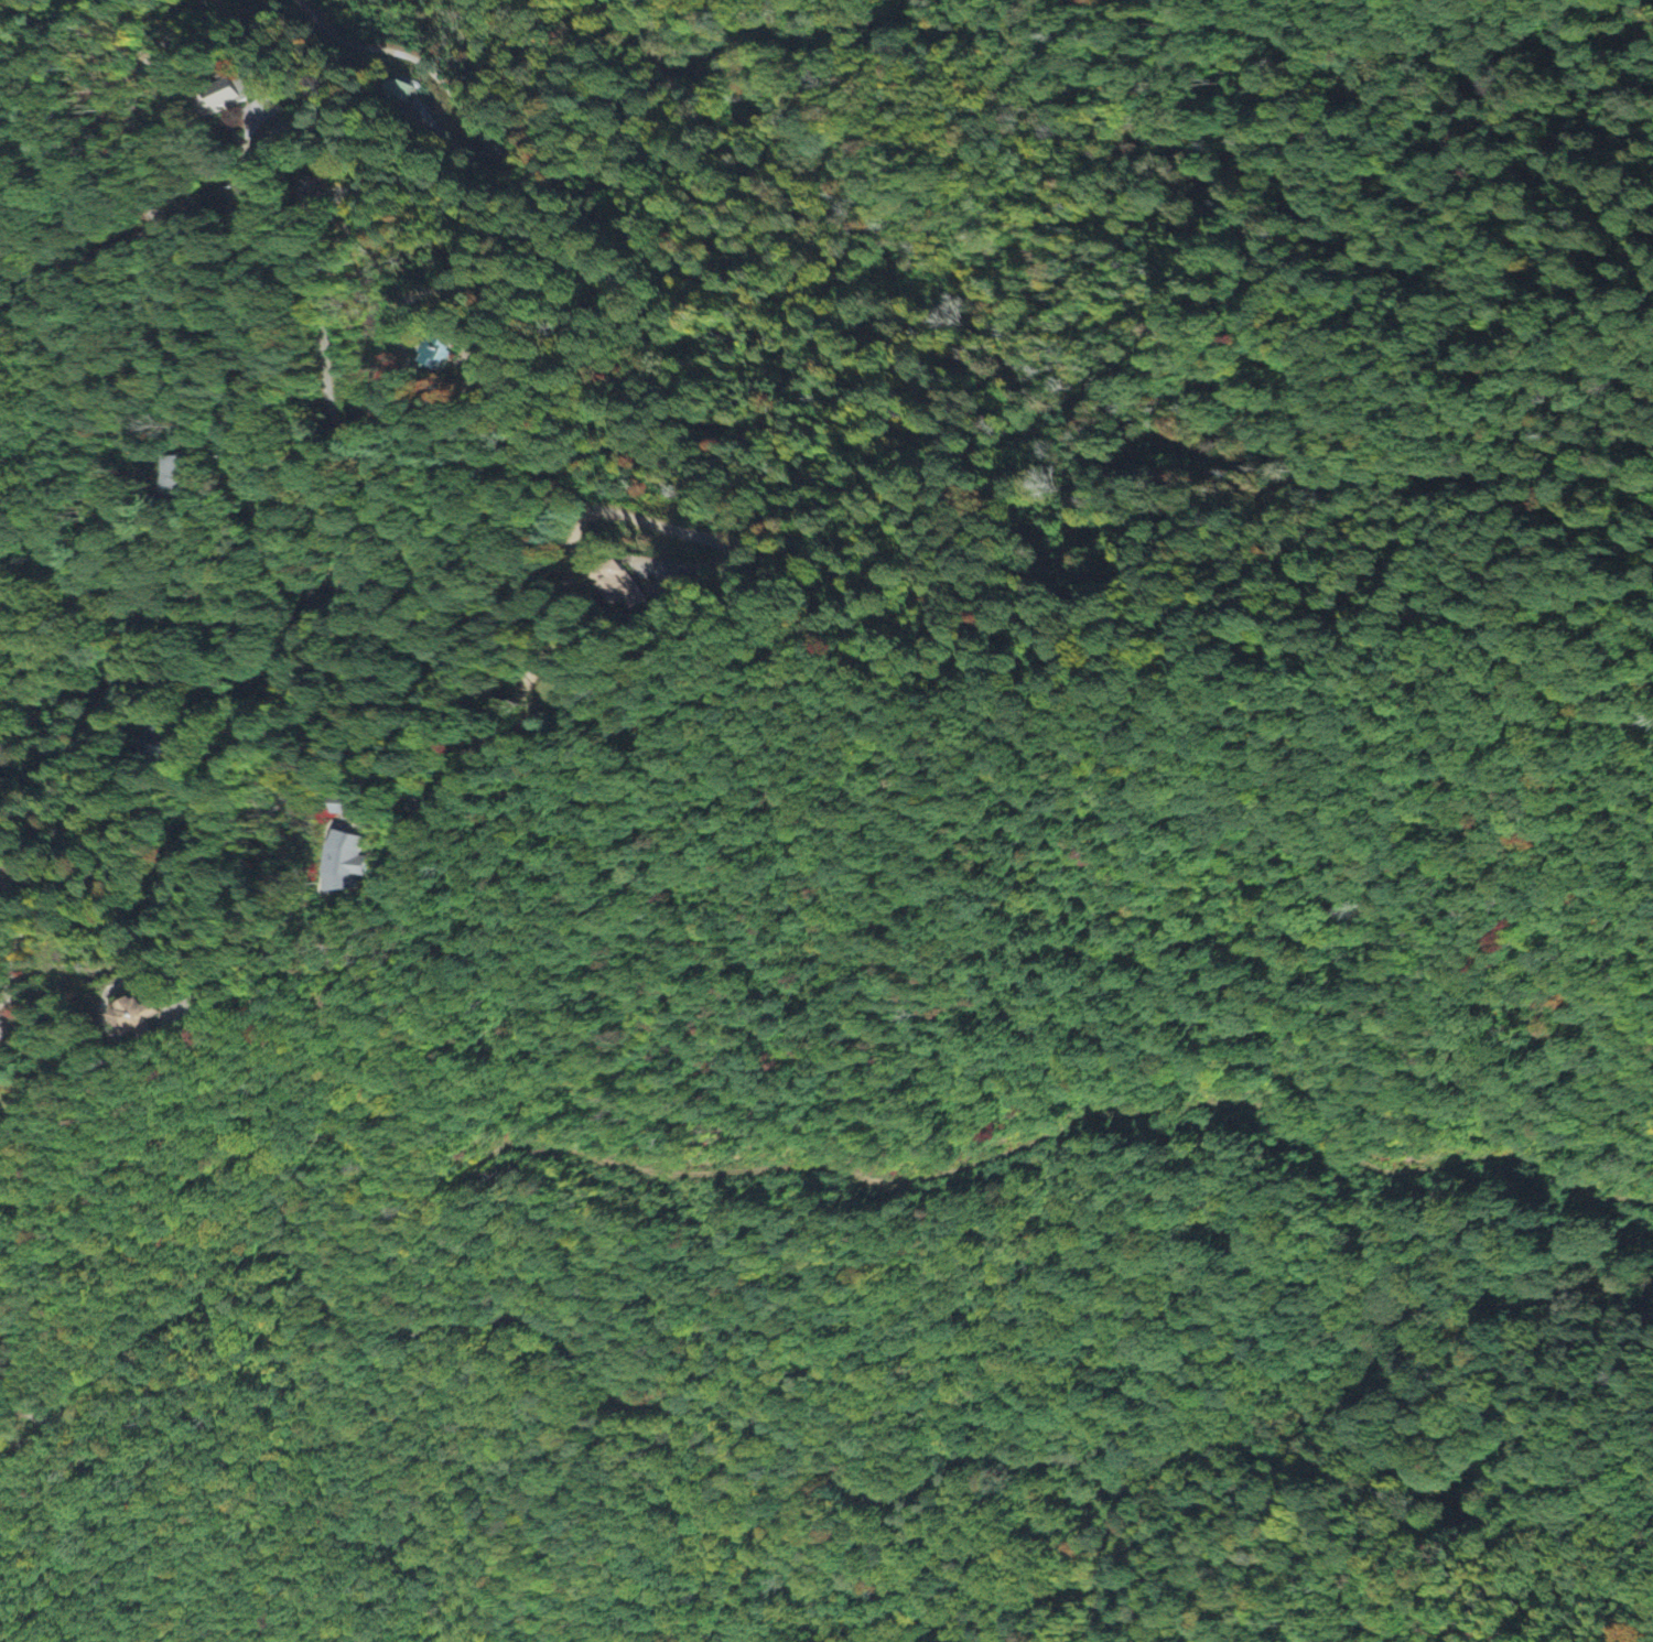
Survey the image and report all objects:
road: (410, 56)
road: (360, 168)
building: (437, 356)
road: (145, 462)
building: (185, 476)
road: (86, 569)
building: (620, 587)
building: (347, 807)
building: (345, 860)
building: (137, 1018)
road: (906, 1260)

